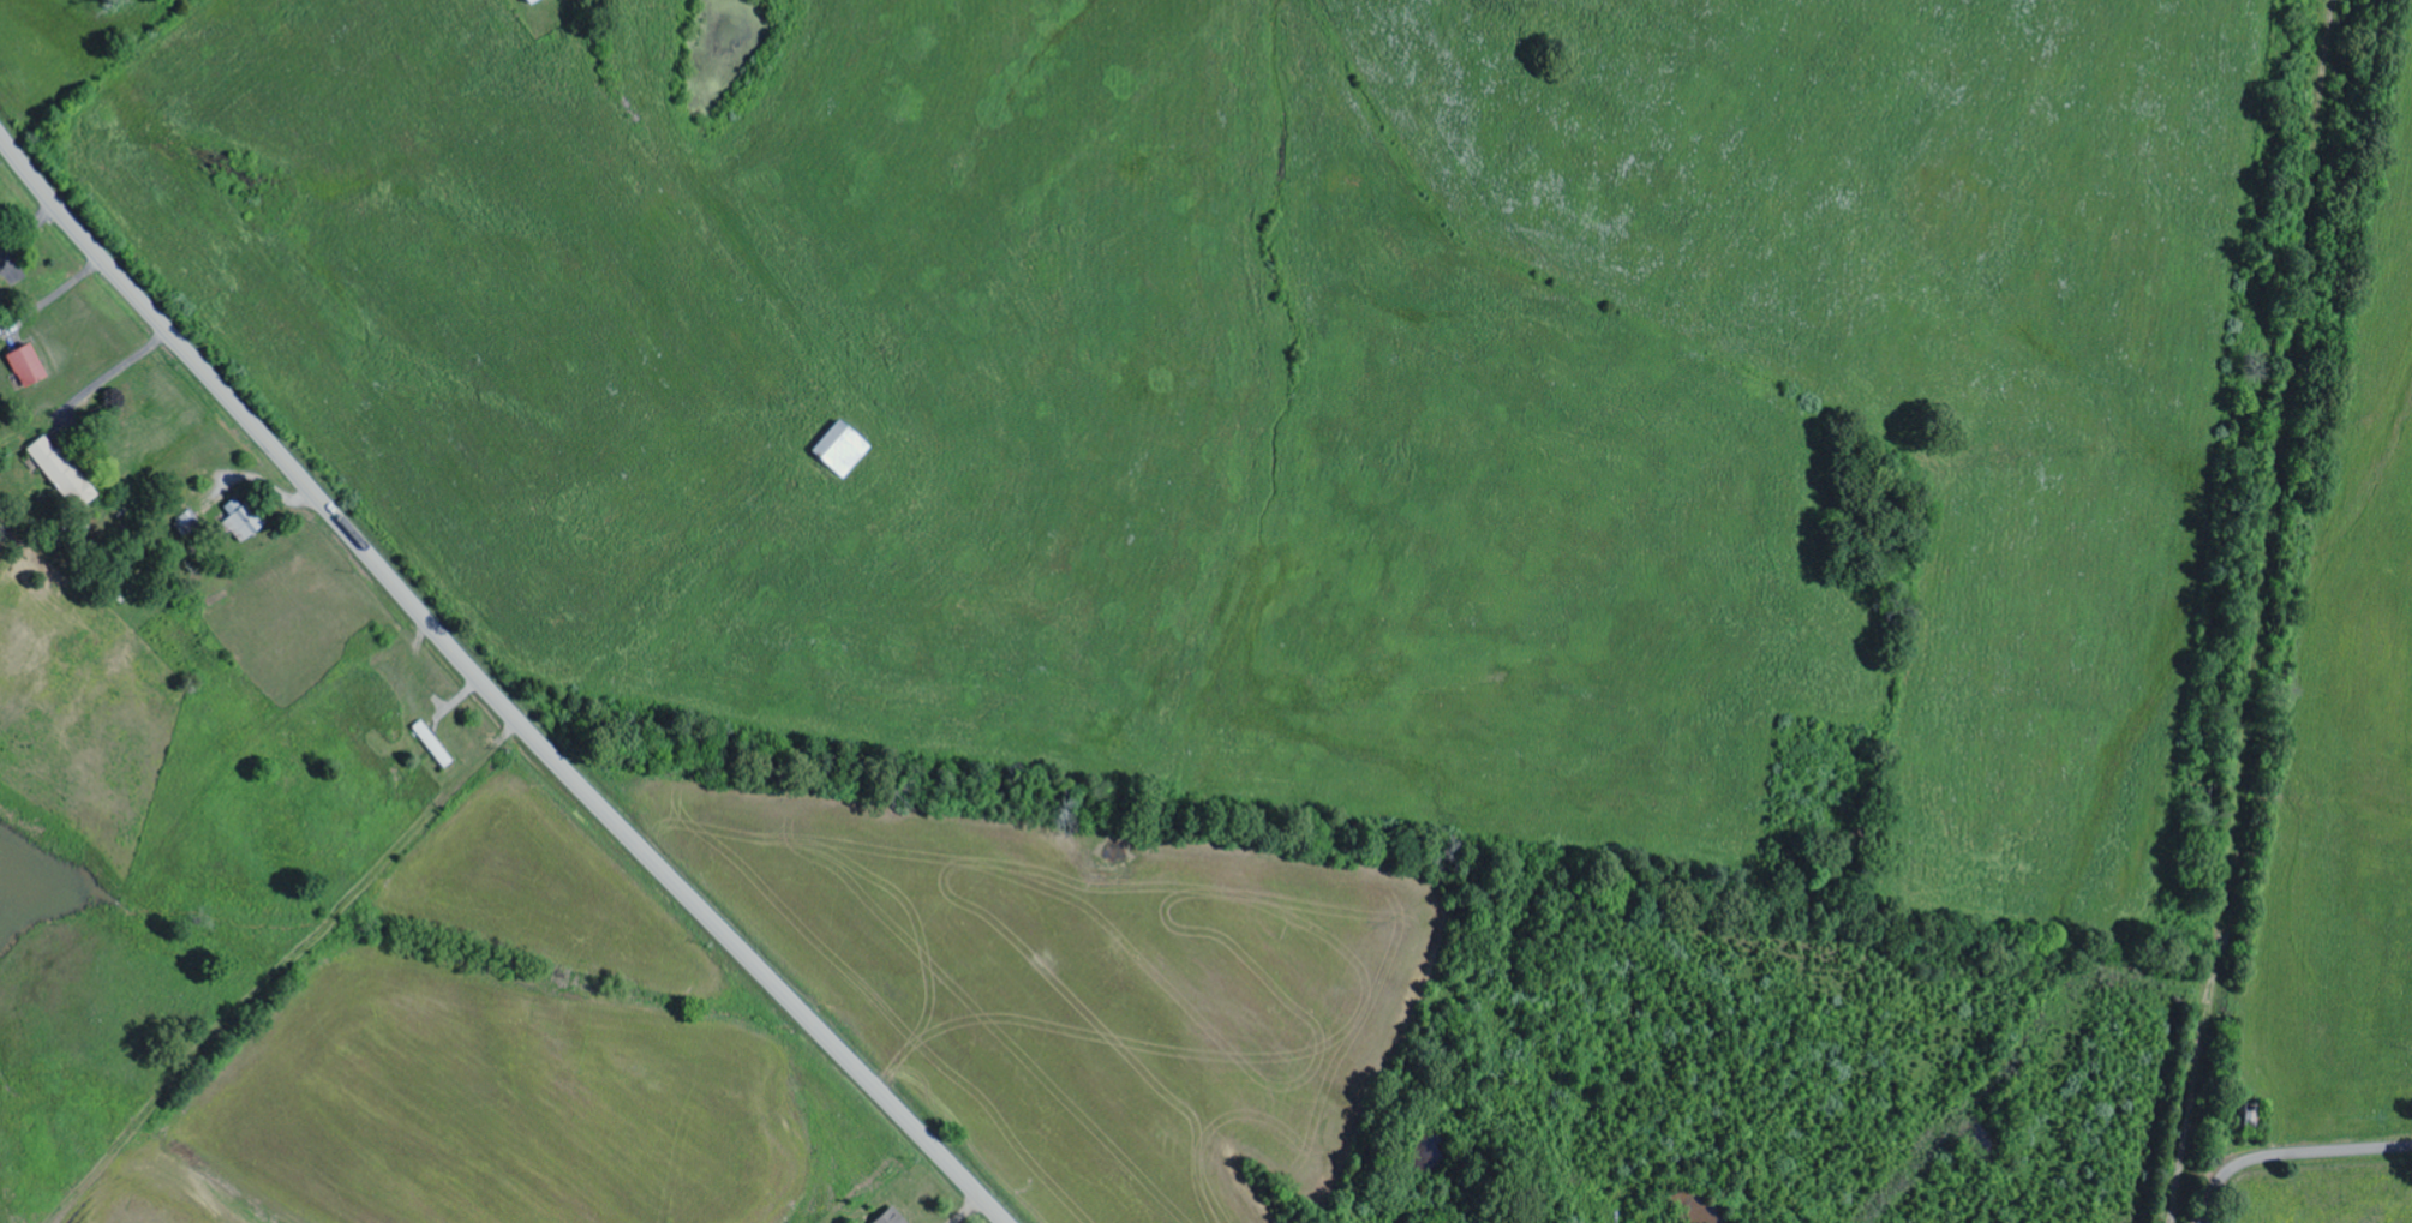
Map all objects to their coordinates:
building: (532, 1)
building: (28, 366)
building: (842, 450)
building: (62, 473)
building: (243, 521)
road: (490, 693)
crop: (819, 1019)
road: (2292, 1158)
building: (892, 1217)

